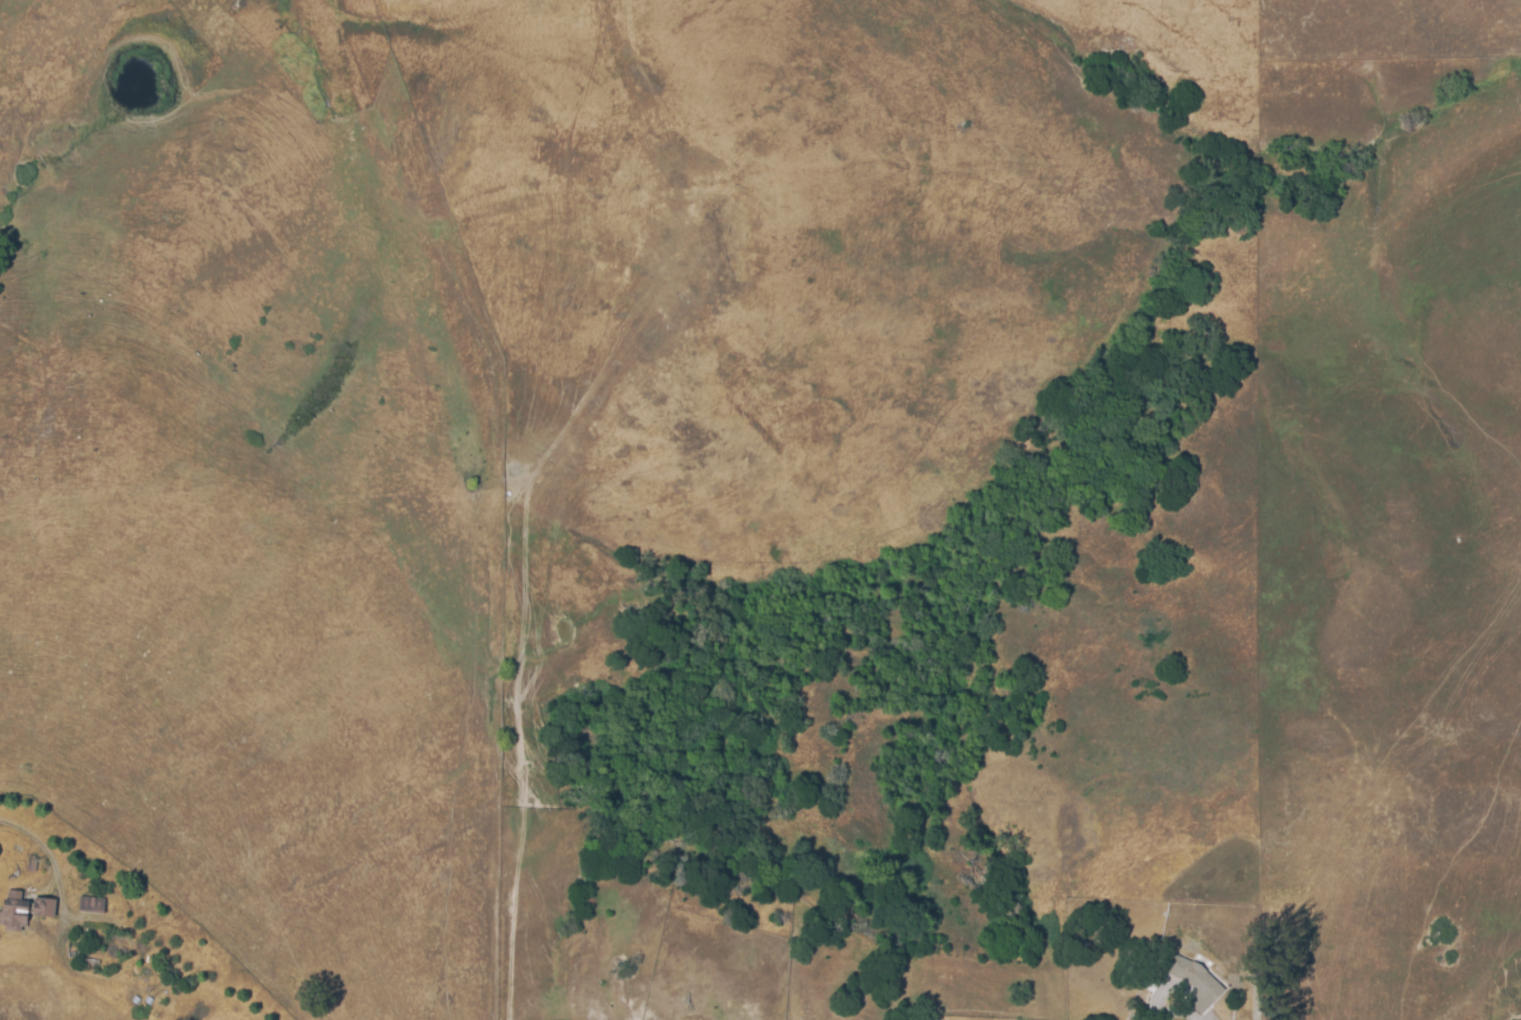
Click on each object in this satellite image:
road: (49, 853)
building: (31, 864)
building: (92, 907)
building: (43, 908)
building: (14, 912)
building: (1192, 970)
road: (1175, 1011)

